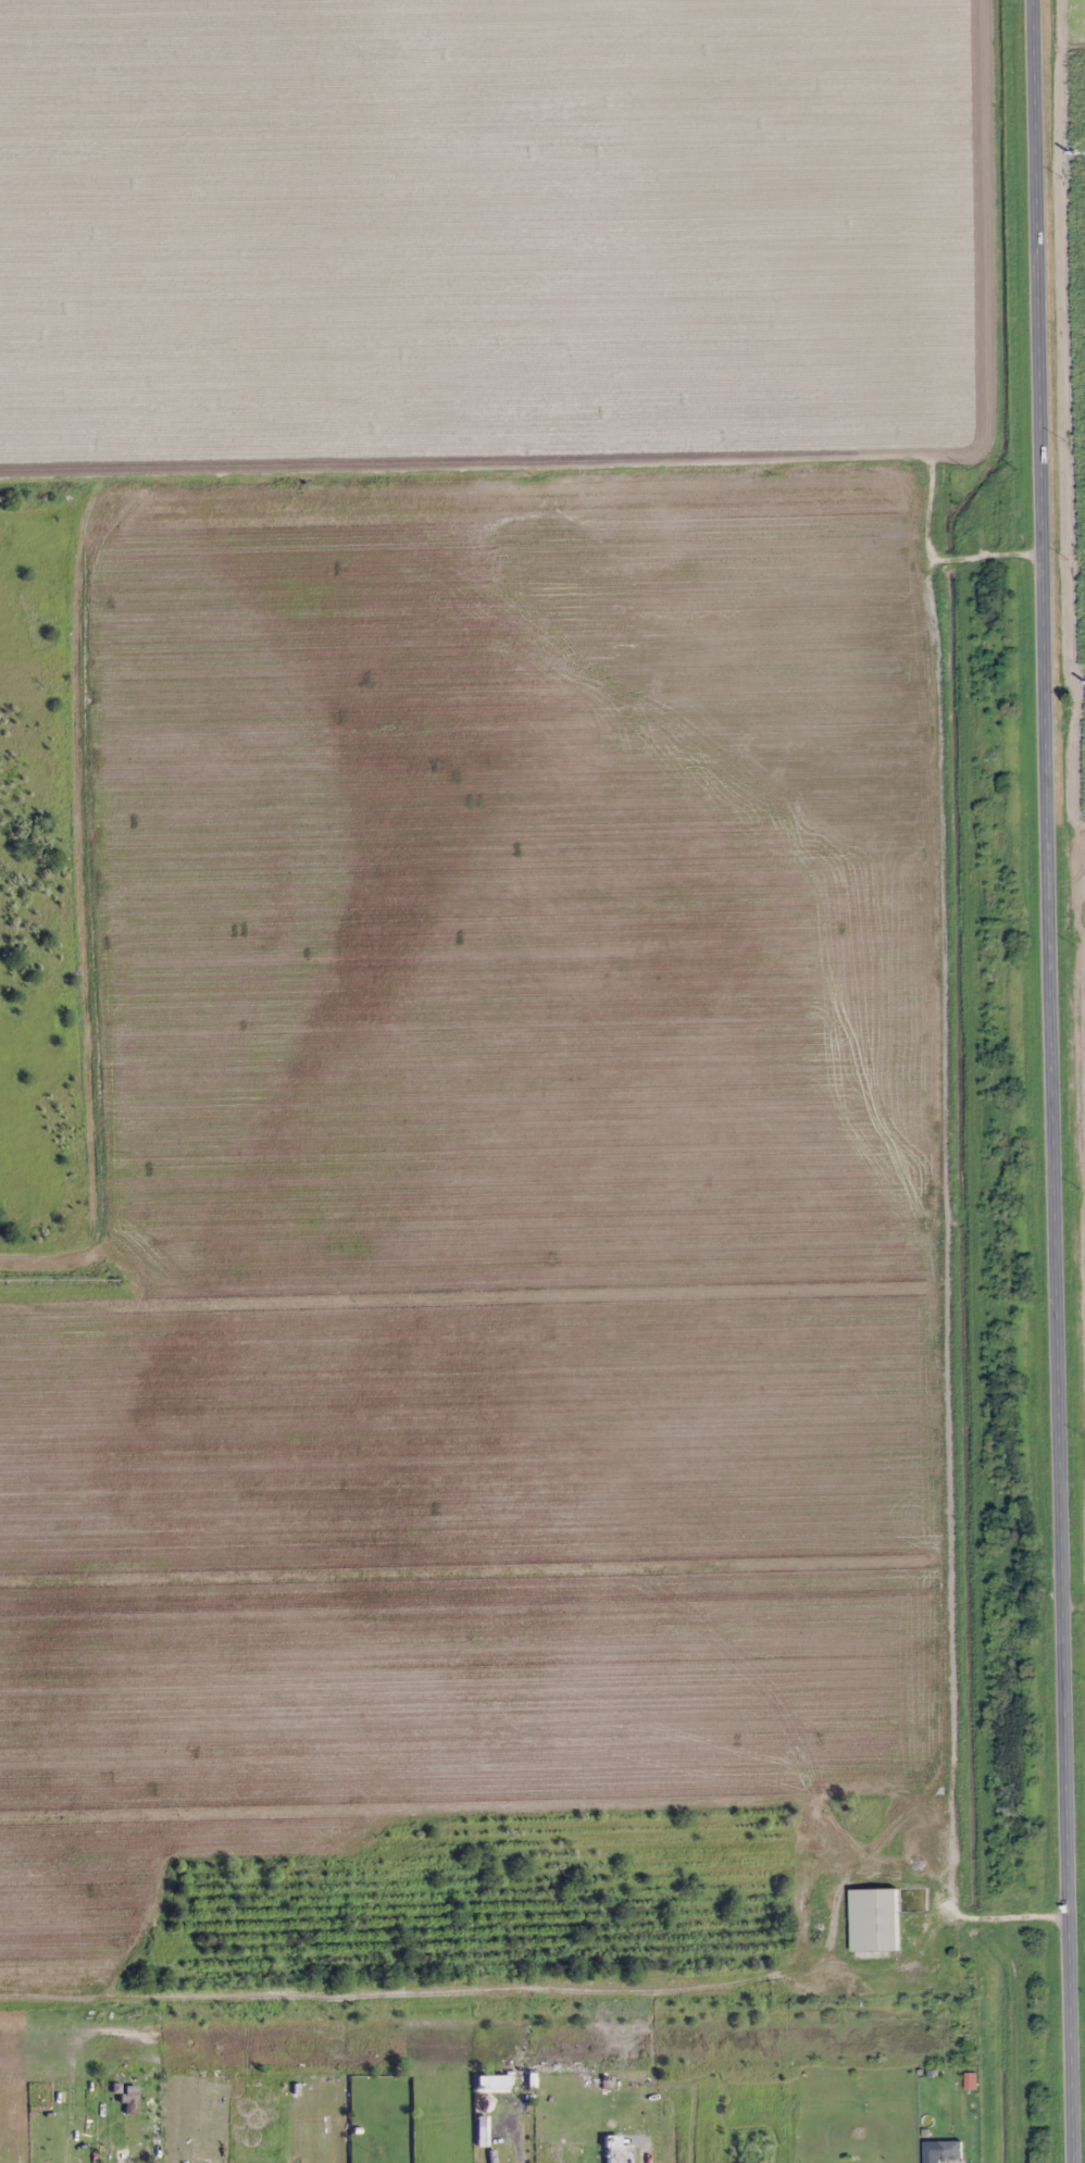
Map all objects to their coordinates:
road: (565, 467)
road: (1053, 1081)
road: (996, 1918)
building: (873, 1920)

